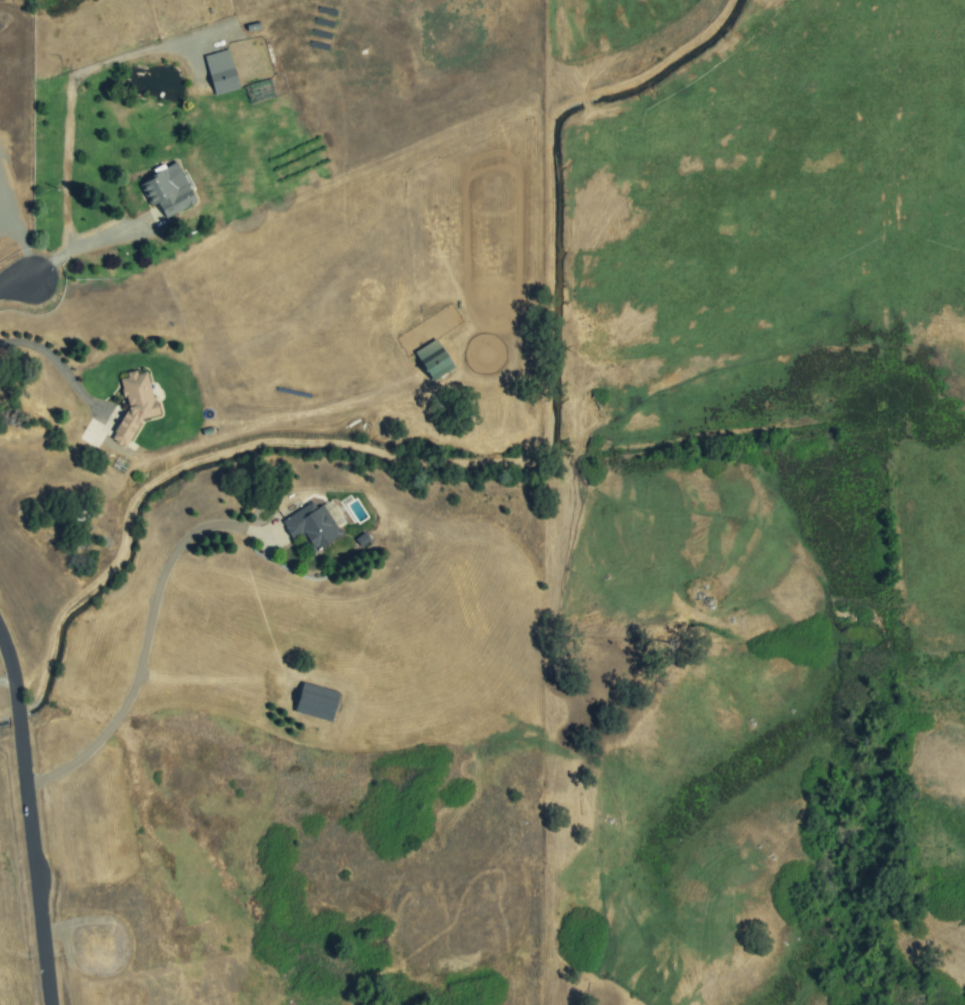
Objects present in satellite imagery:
building: (221, 72)
road: (69, 105)
building: (167, 190)
road: (81, 244)
road: (19, 281)
building: (433, 360)
road: (57, 361)
building: (134, 406)
building: (310, 526)
road: (143, 656)
road: (10, 681)
building: (316, 702)
road: (27, 812)

